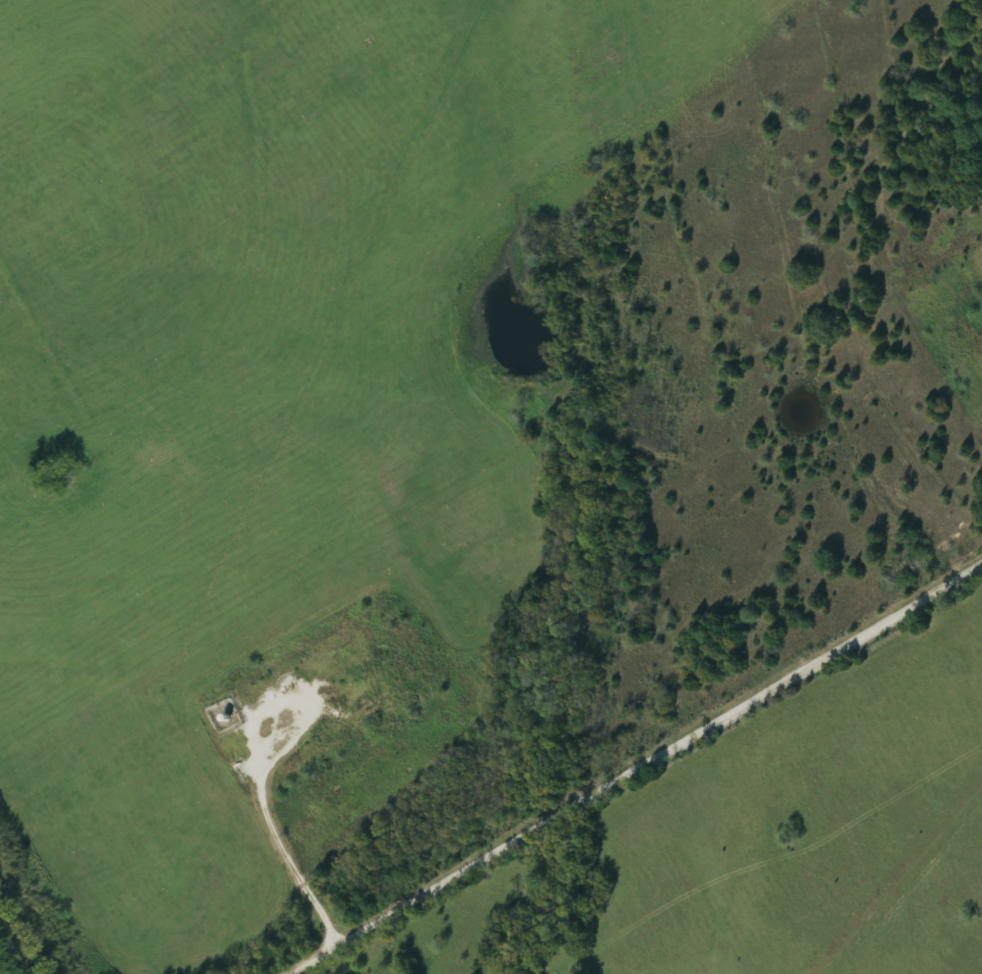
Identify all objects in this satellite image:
road: (633, 768)
road: (13, 950)

